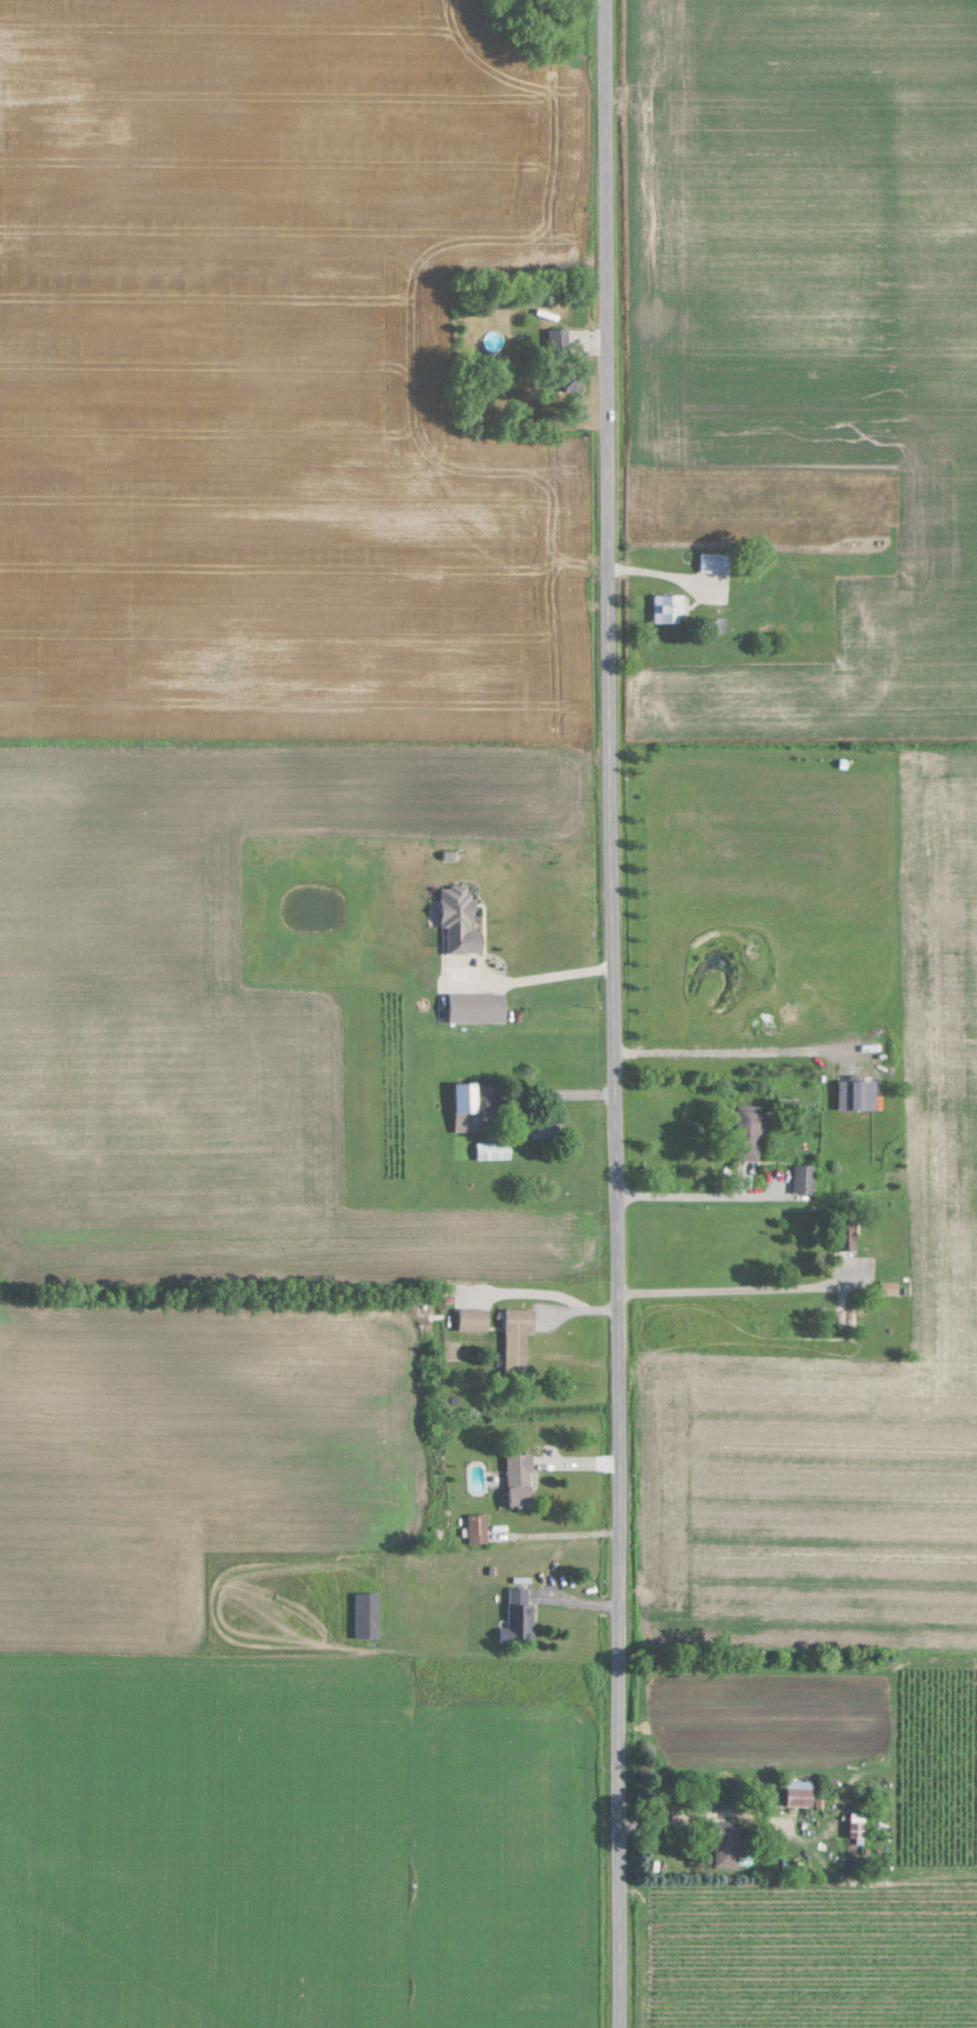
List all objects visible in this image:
building: (716, 562)
building: (772, 598)
building: (669, 609)
building: (716, 624)
building: (461, 917)
road: (531, 990)
building: (477, 1006)
road: (615, 1014)
road: (735, 1048)
road: (550, 1091)
building: (857, 1093)
building: (466, 1096)
building: (541, 1127)
building: (747, 1132)
building: (492, 1150)
building: (804, 1178)
road: (683, 1206)
building: (845, 1235)
building: (890, 1287)
road: (732, 1299)
building: (473, 1318)
building: (518, 1334)
building: (519, 1480)
building: (477, 1528)
road: (568, 1532)
building: (369, 1614)
building: (520, 1617)
building: (801, 1796)
building: (859, 1817)
building: (725, 1843)

